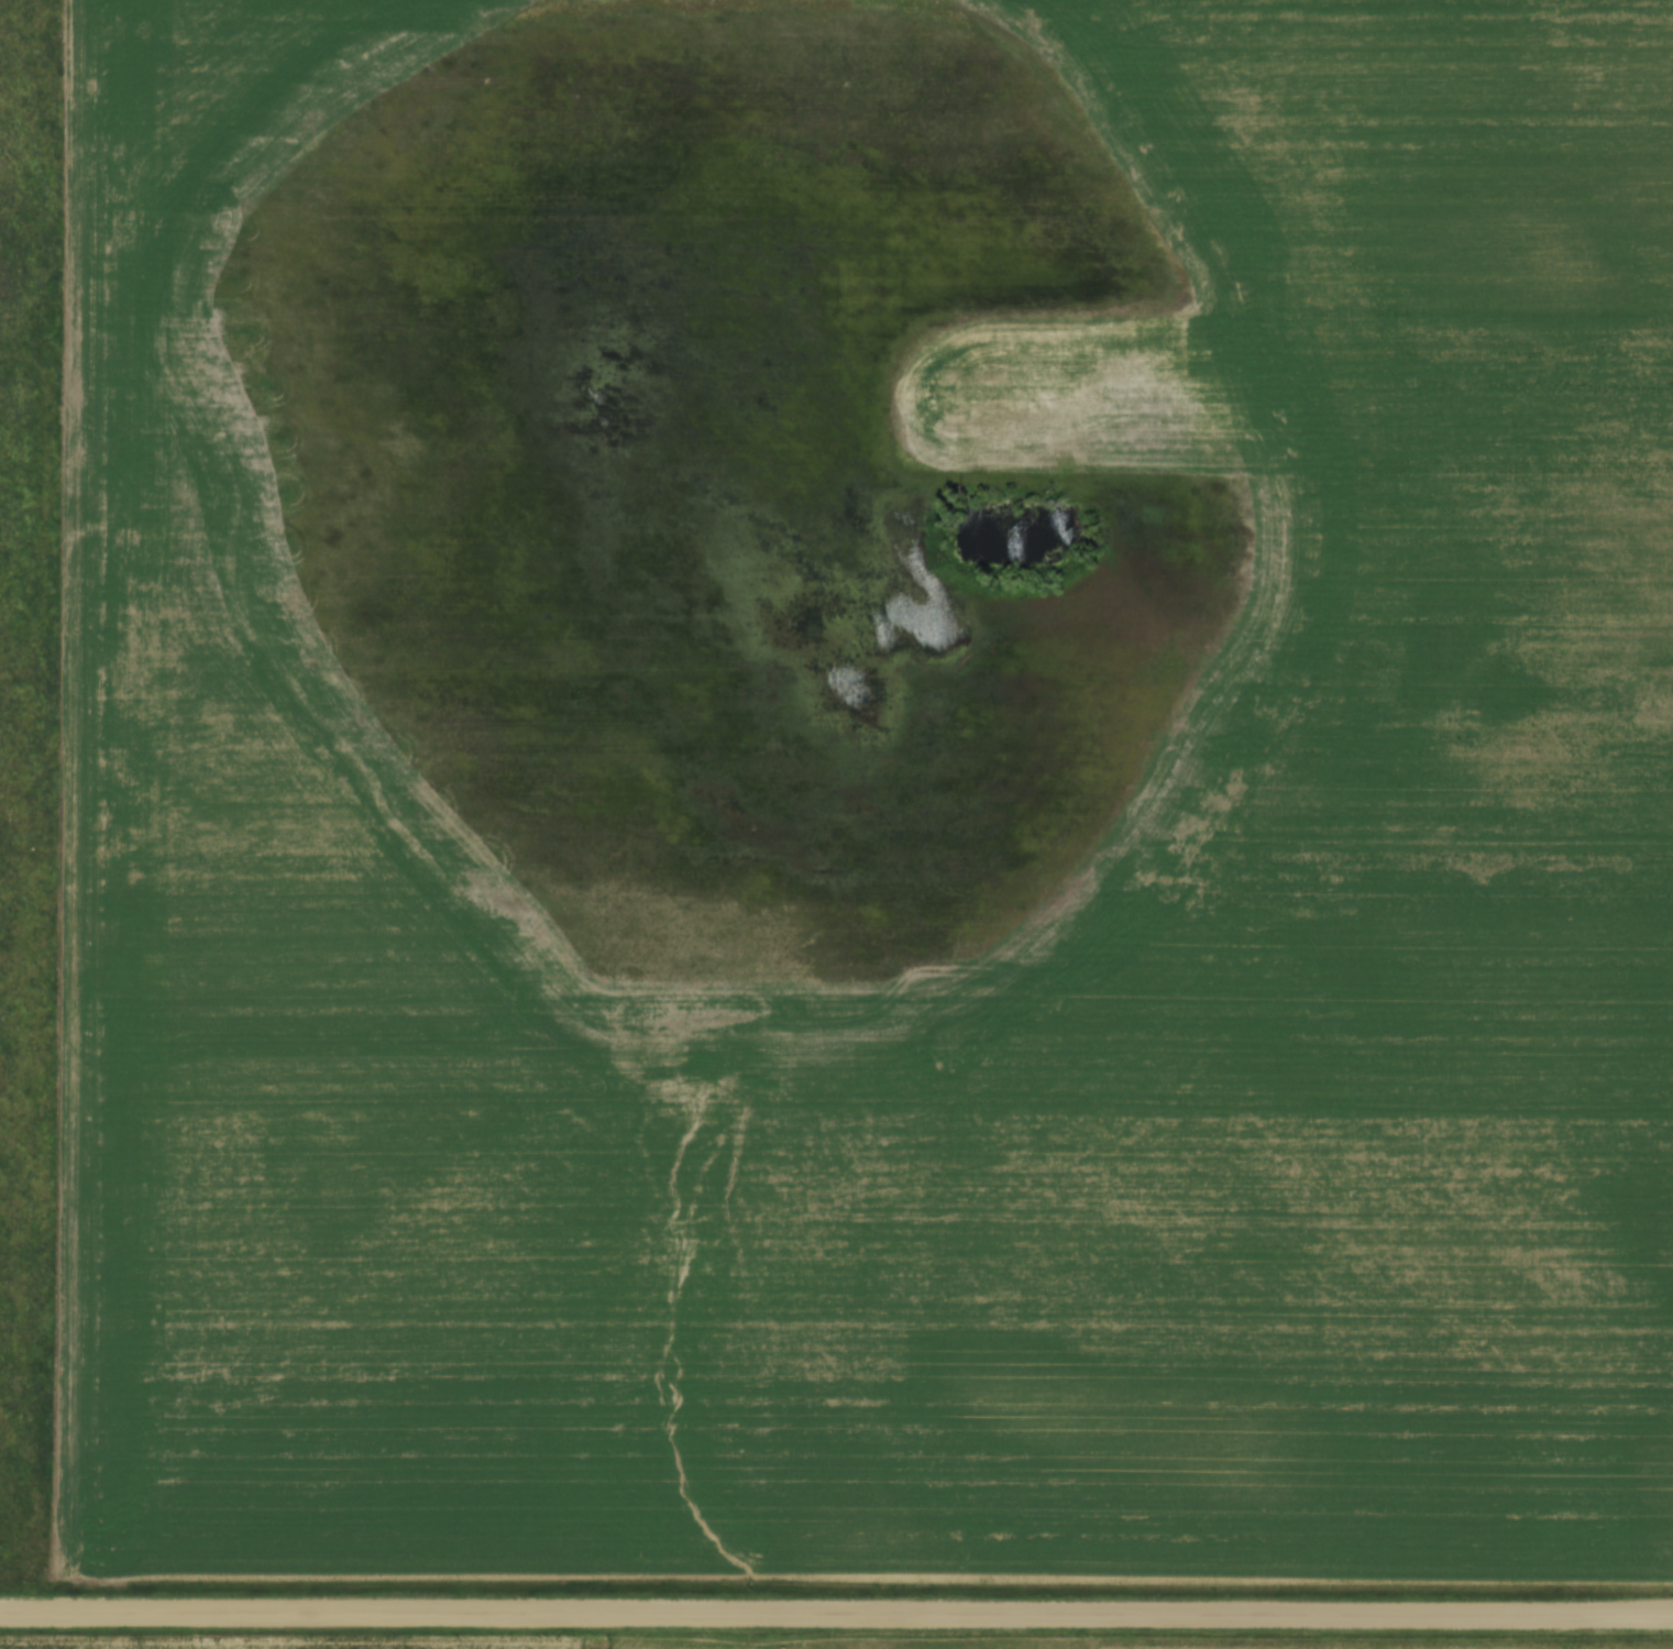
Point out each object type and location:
road: (836, 1614)

